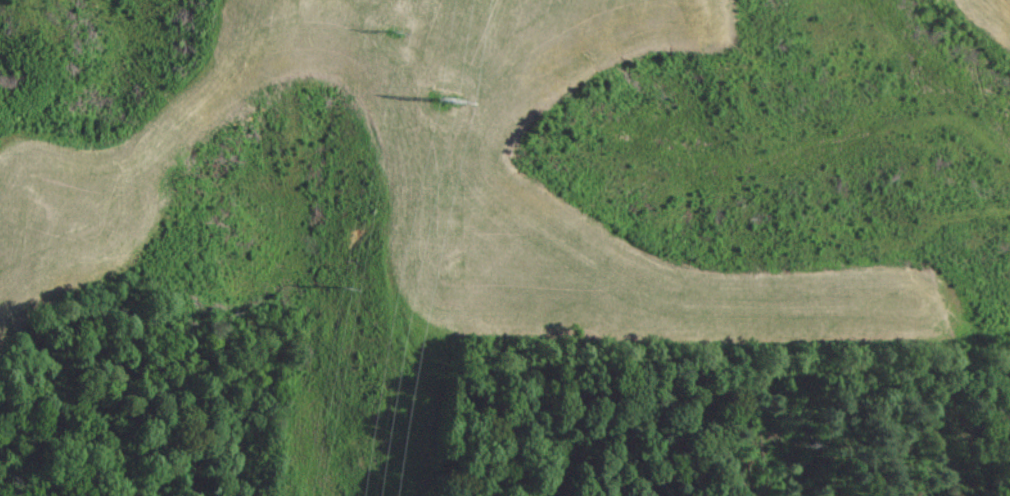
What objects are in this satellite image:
power tower: (440, 104)

